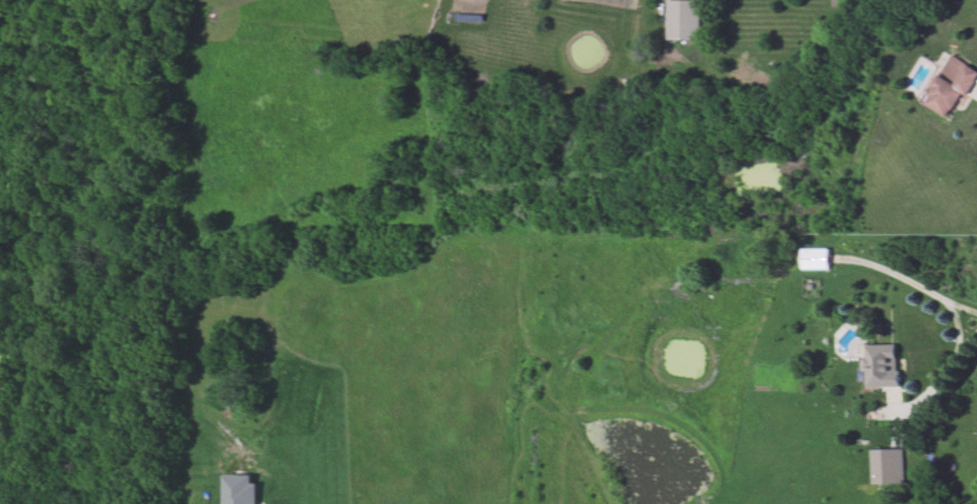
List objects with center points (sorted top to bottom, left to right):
building: (684, 20)
building: (952, 86)
building: (815, 259)
building: (882, 366)
road: (939, 376)
building: (887, 466)
building: (241, 490)

